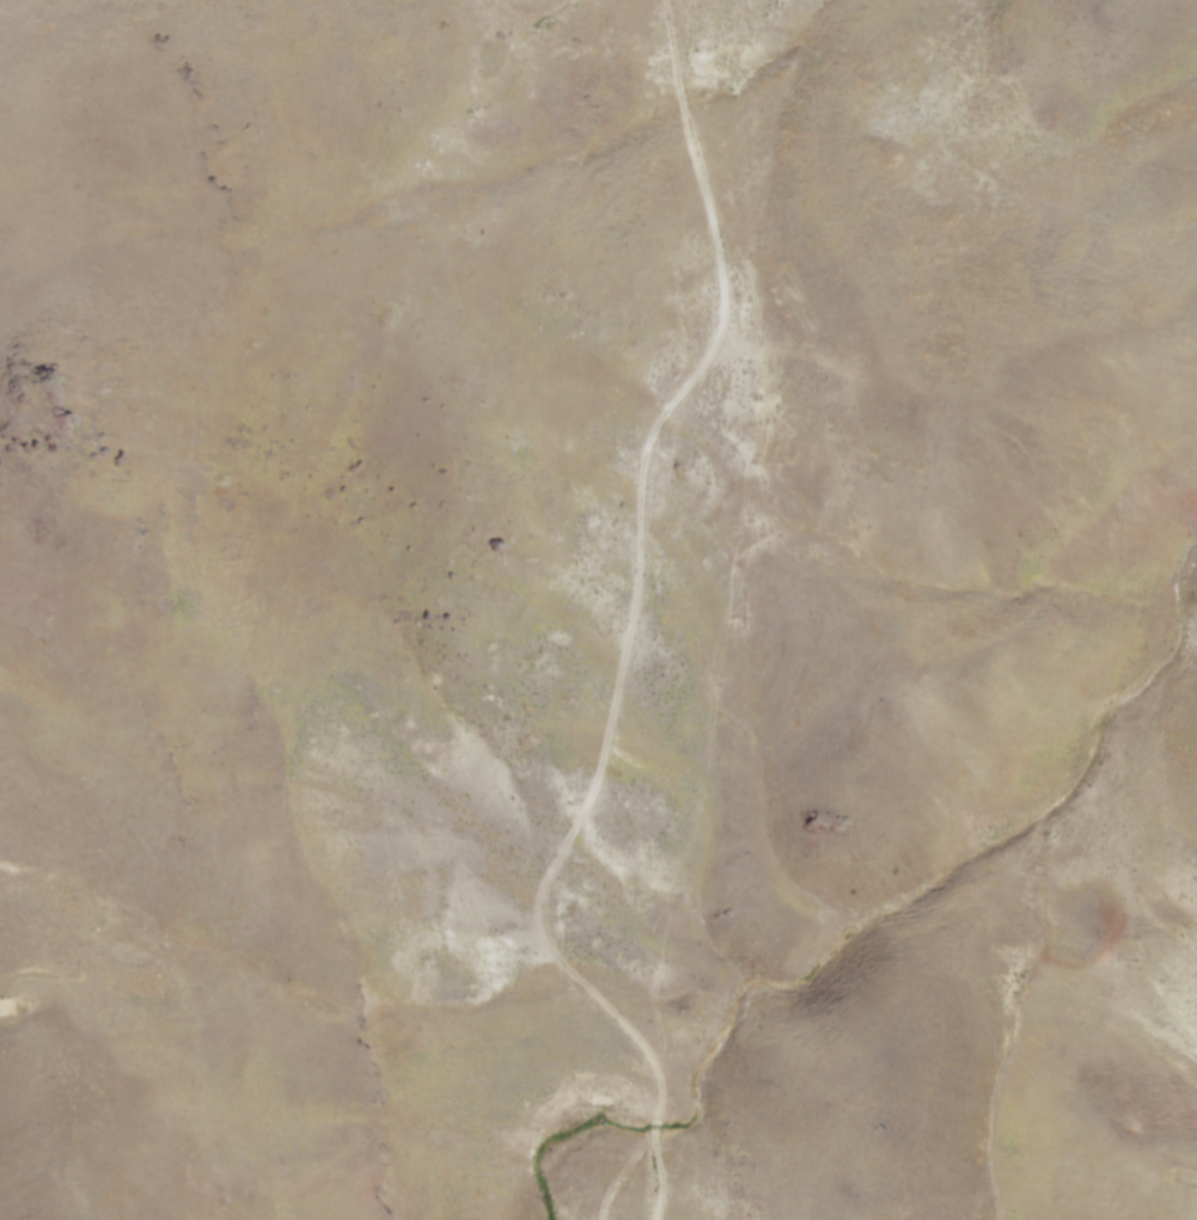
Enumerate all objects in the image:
road: (633, 625)
road: (624, 1171)

